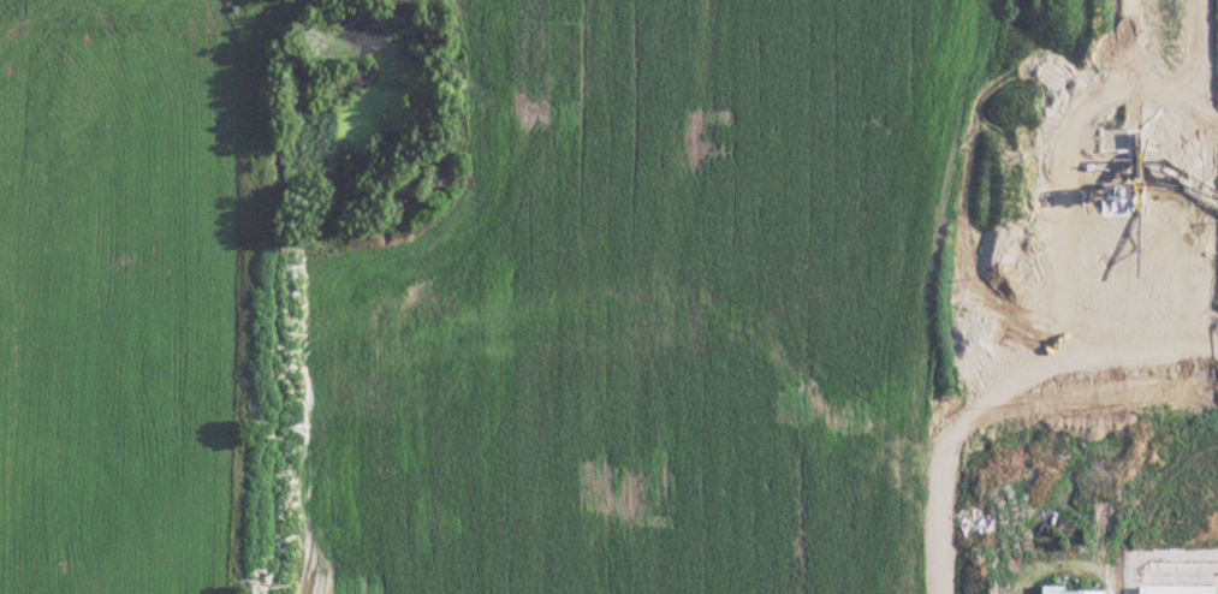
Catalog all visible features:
building: (1177, 589)
building: (1074, 590)

